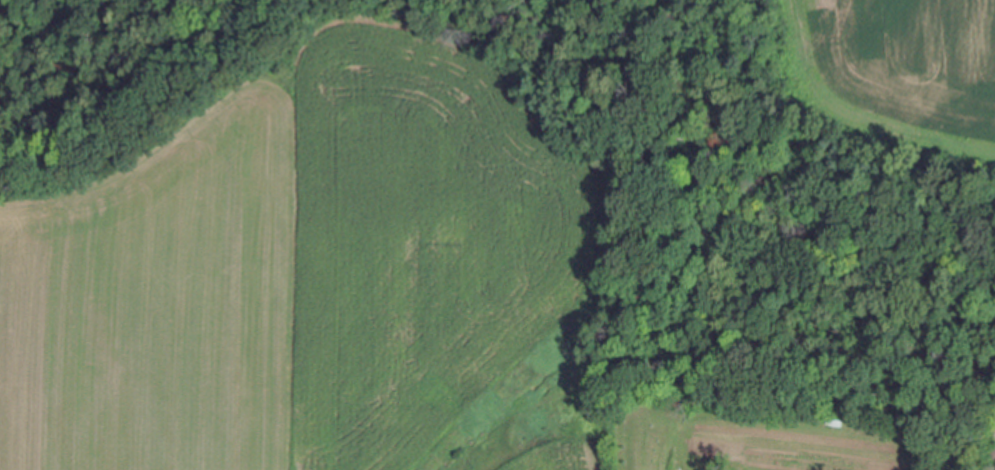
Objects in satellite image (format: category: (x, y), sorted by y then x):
building: (931, 315)

